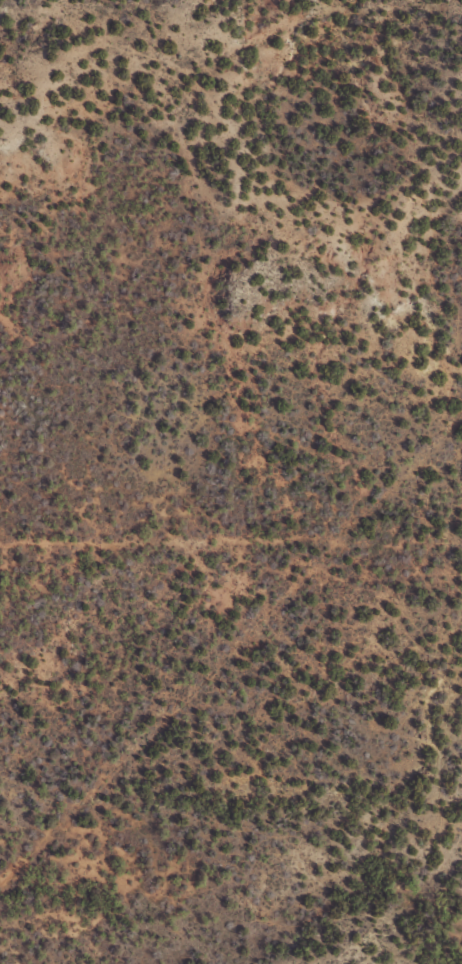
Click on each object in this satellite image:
road: (227, 160)

